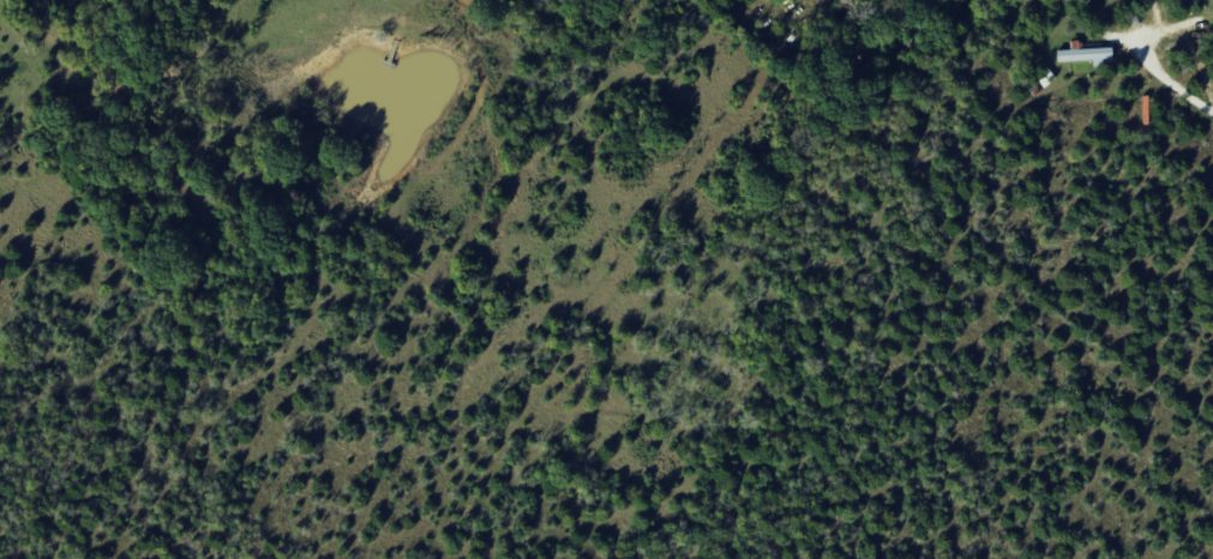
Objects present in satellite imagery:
building: (1088, 56)
road: (1170, 83)

